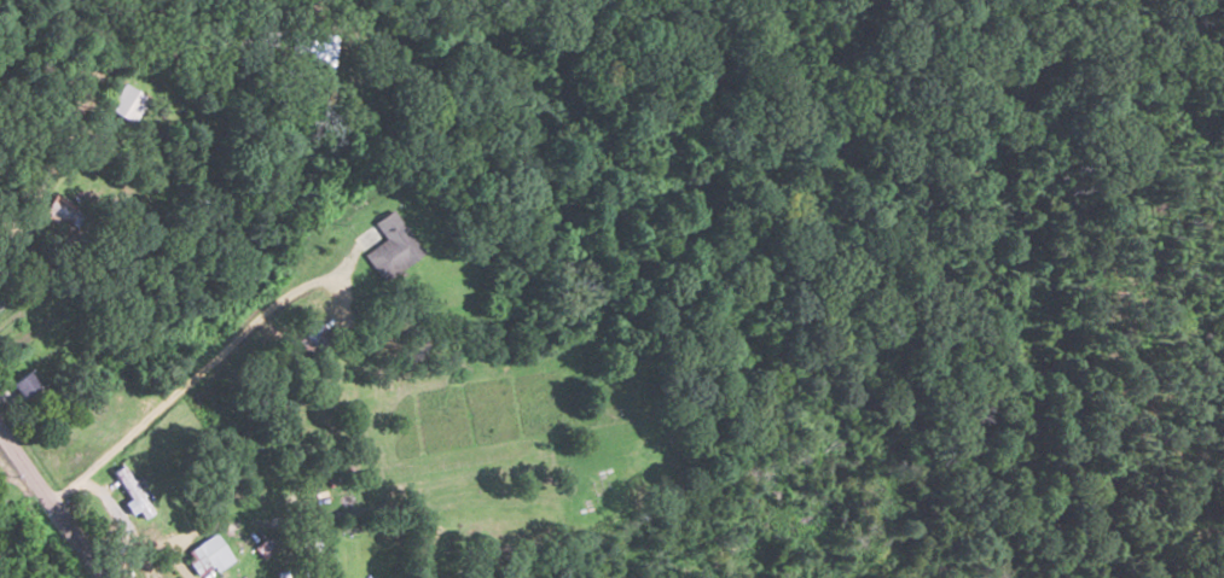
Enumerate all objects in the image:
building: (126, 104)
road: (133, 127)
building: (57, 210)
building: (393, 246)
building: (315, 339)
building: (24, 385)
building: (132, 492)
road: (51, 503)
building: (205, 556)

